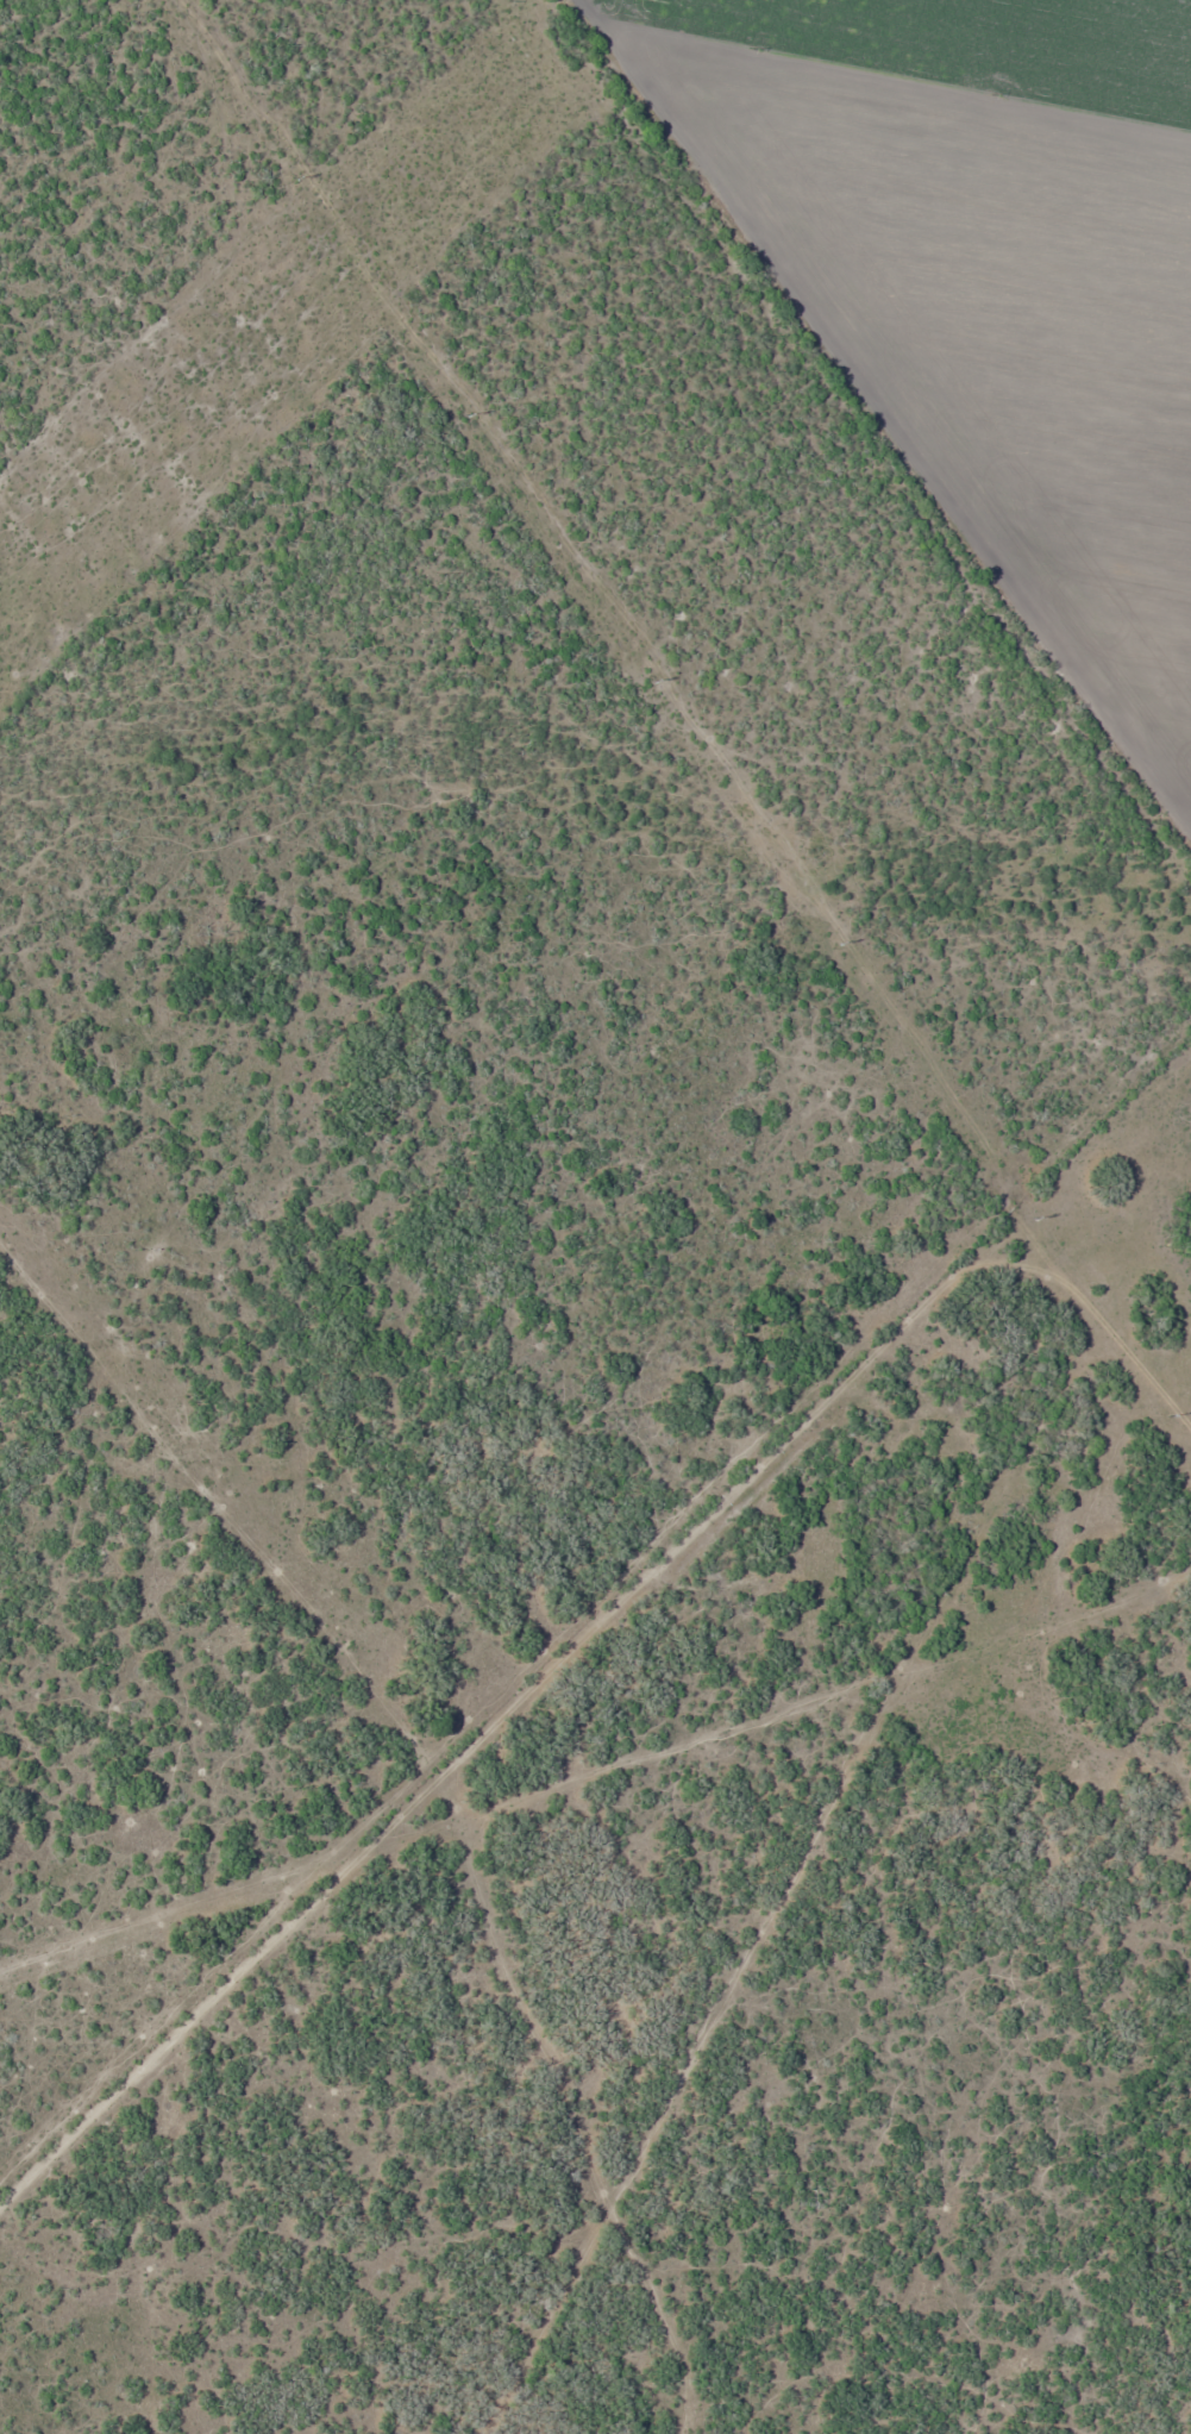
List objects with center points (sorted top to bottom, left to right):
road: (582, 1666)

